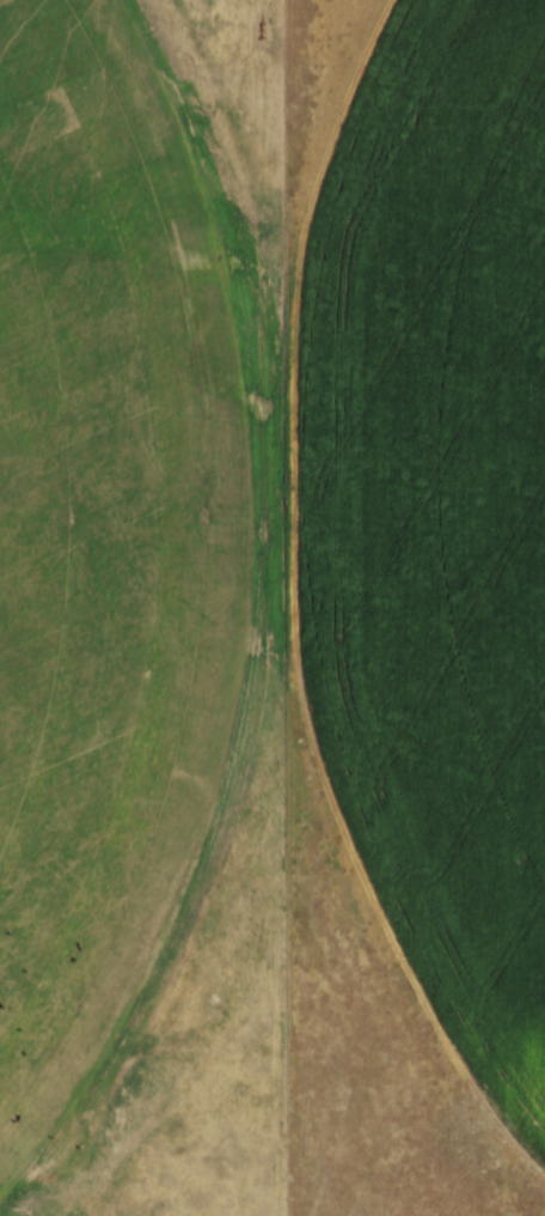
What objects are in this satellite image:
crop: (274, 534)

